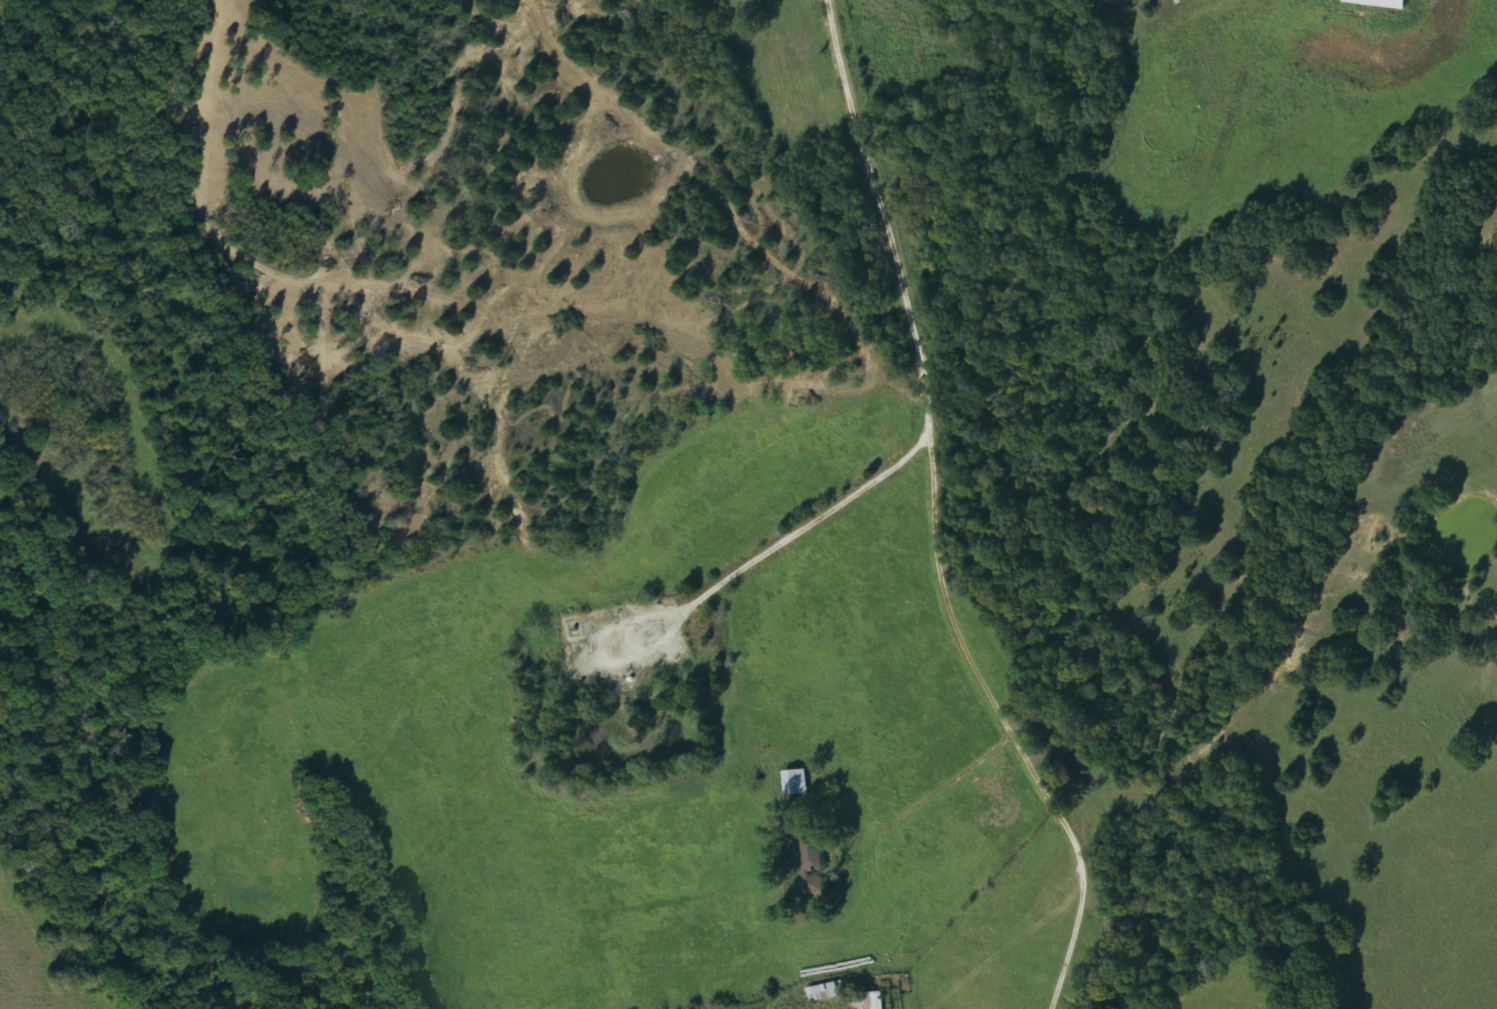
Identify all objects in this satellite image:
building: (1383, 3)
road: (854, 106)
building: (797, 782)
building: (814, 866)
building: (825, 992)
building: (868, 1001)

